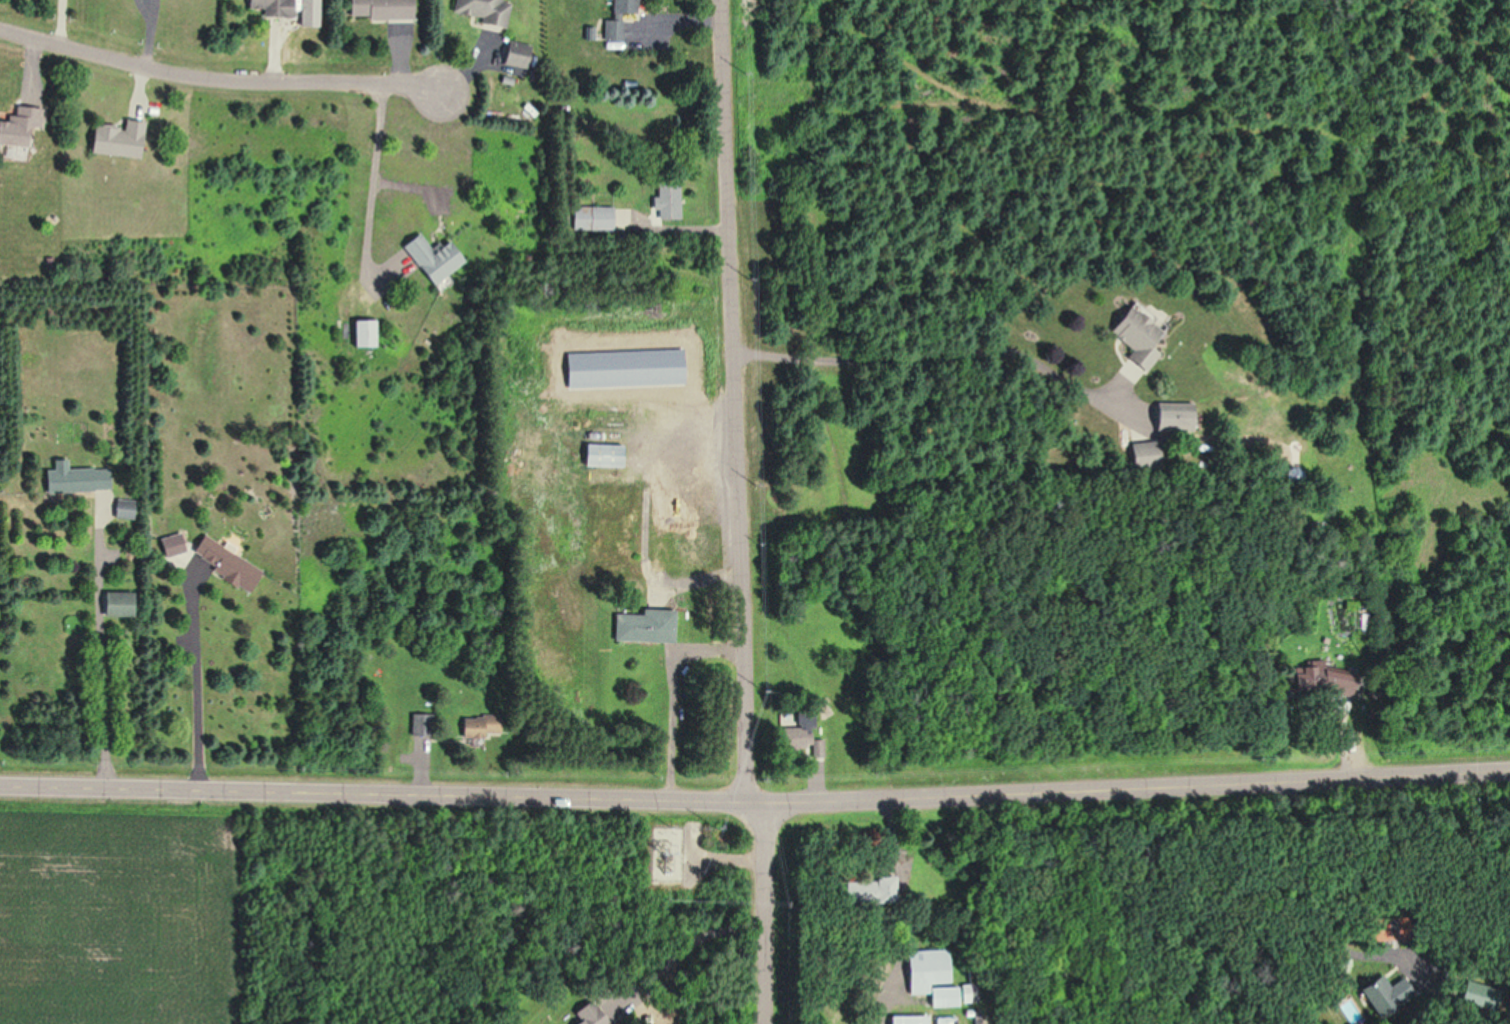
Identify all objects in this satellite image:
building: (270, 7)
building: (379, 9)
building: (617, 19)
road: (220, 82)
building: (19, 125)
building: (117, 138)
road: (372, 175)
building: (668, 199)
building: (592, 218)
building: (432, 257)
building: (359, 333)
building: (1135, 334)
road: (924, 361)
building: (1168, 419)
building: (601, 455)
building: (74, 479)
building: (122, 510)
road: (738, 513)
building: (668, 537)
building: (213, 560)
building: (117, 604)
building: (637, 625)
road: (99, 646)
road: (193, 674)
building: (1319, 682)
building: (417, 724)
building: (480, 727)
building: (796, 733)
road: (755, 804)
building: (871, 890)
crop: (133, 910)
road: (904, 913)
road: (690, 946)
building: (928, 975)
building: (1385, 994)
building: (1475, 994)
building: (587, 1014)
building: (906, 1019)

